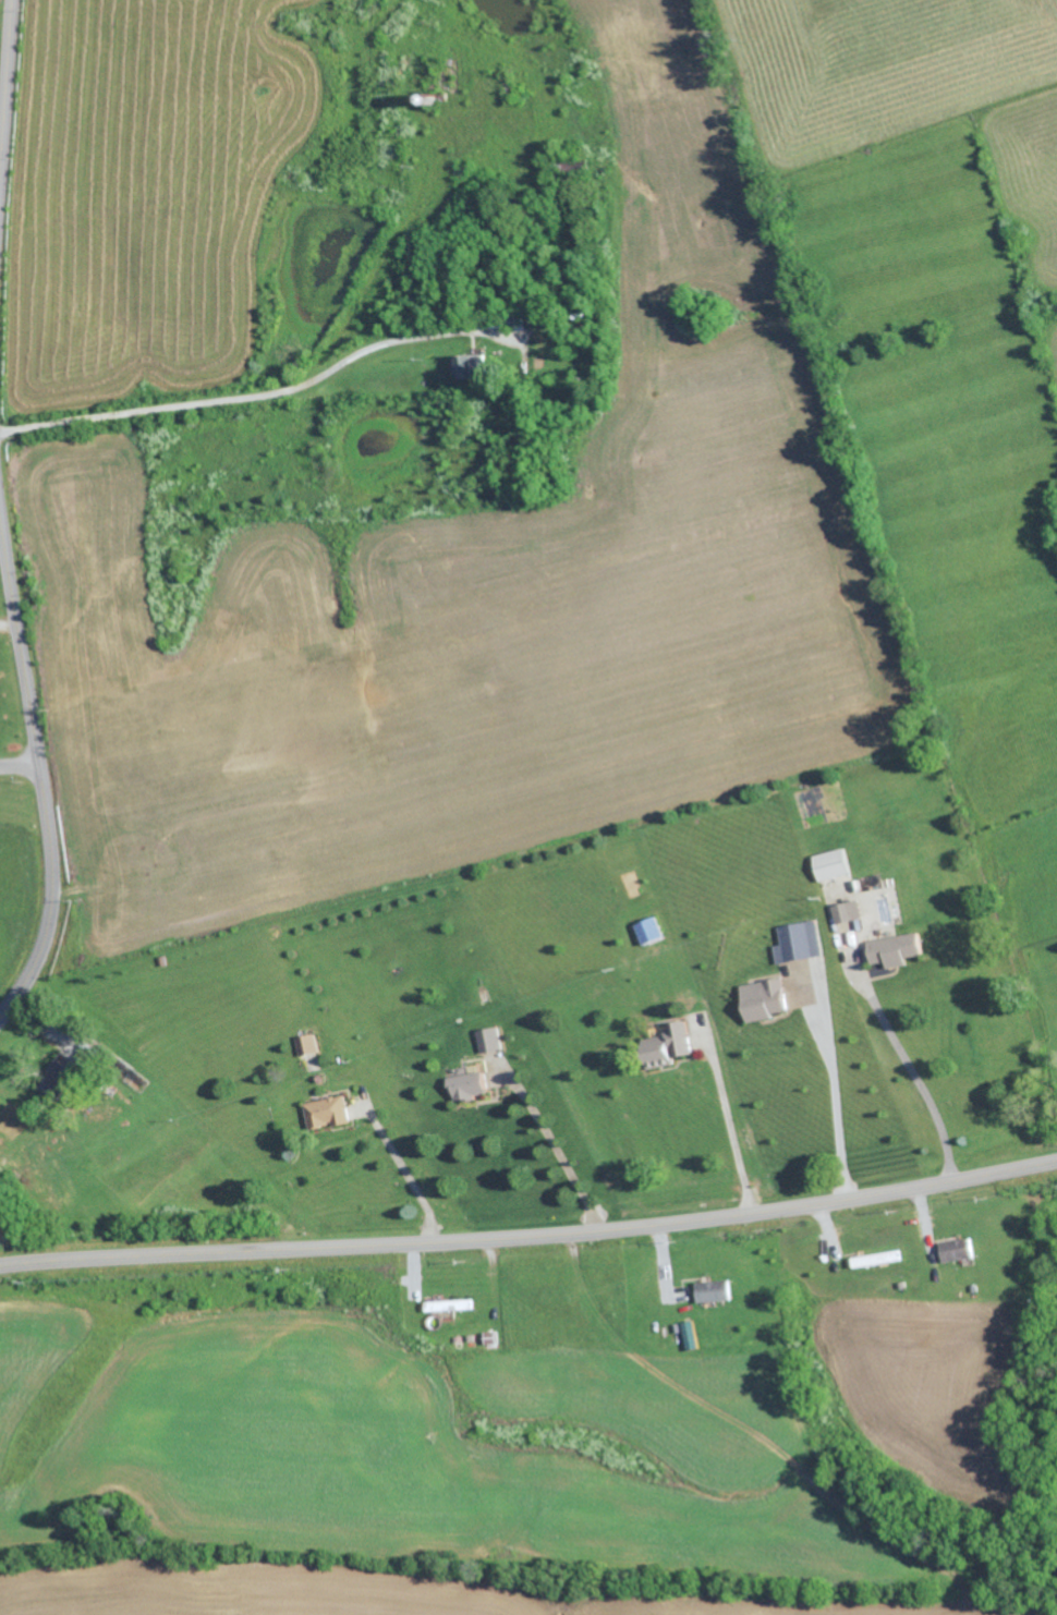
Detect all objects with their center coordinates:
road: (3, 59)
building: (467, 365)
road: (234, 397)
road: (4, 628)
road: (15, 763)
road: (35, 796)
building: (829, 864)
building: (847, 911)
building: (647, 930)
building: (798, 942)
building: (894, 950)
building: (762, 999)
building: (487, 1040)
building: (306, 1044)
building: (666, 1046)
road: (909, 1062)
building: (54, 1078)
building: (465, 1086)
road: (835, 1090)
building: (325, 1113)
road: (731, 1124)
road: (556, 1144)
road: (405, 1171)
road: (531, 1236)
building: (955, 1250)
building: (875, 1259)
building: (713, 1291)
building: (447, 1306)
building: (690, 1335)

